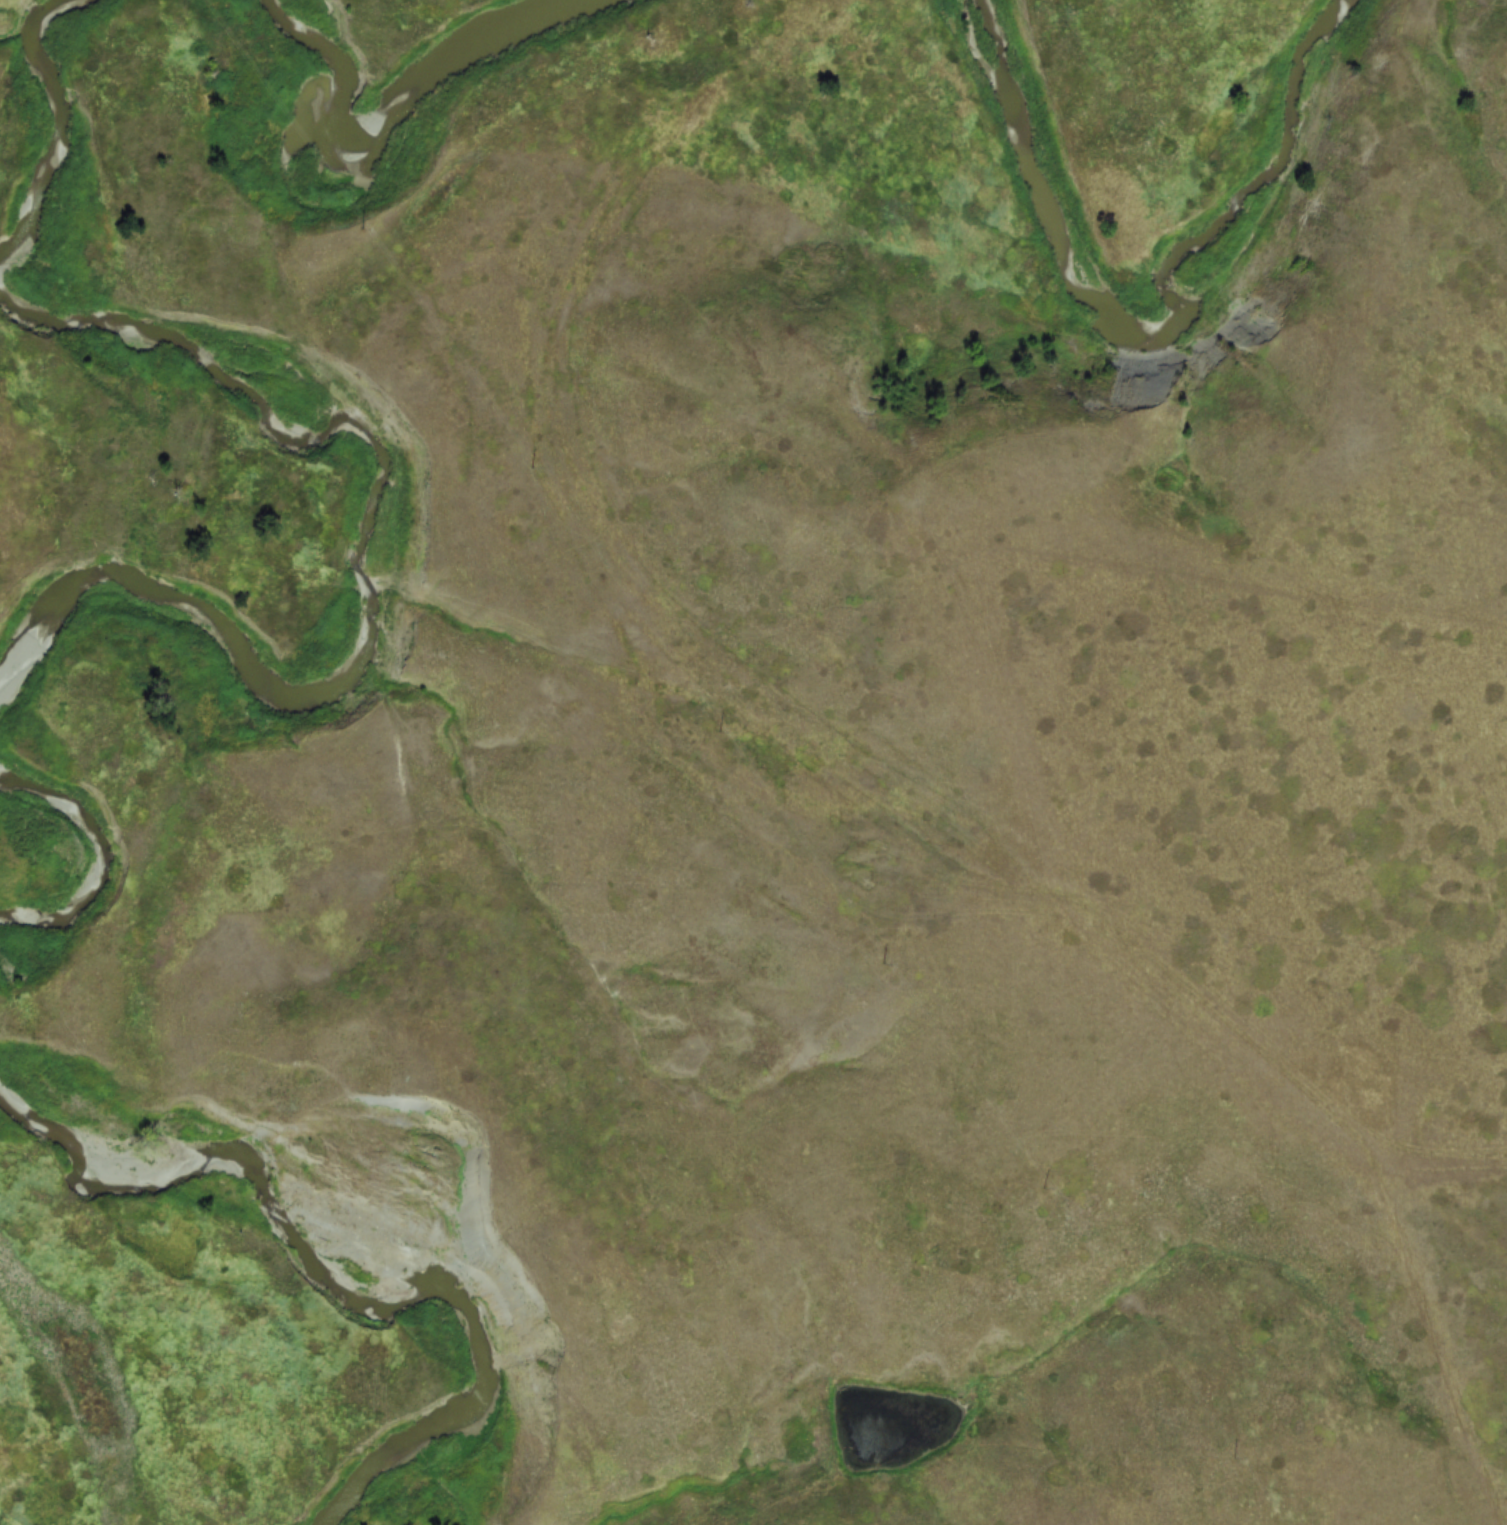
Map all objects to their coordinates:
road: (802, 670)

